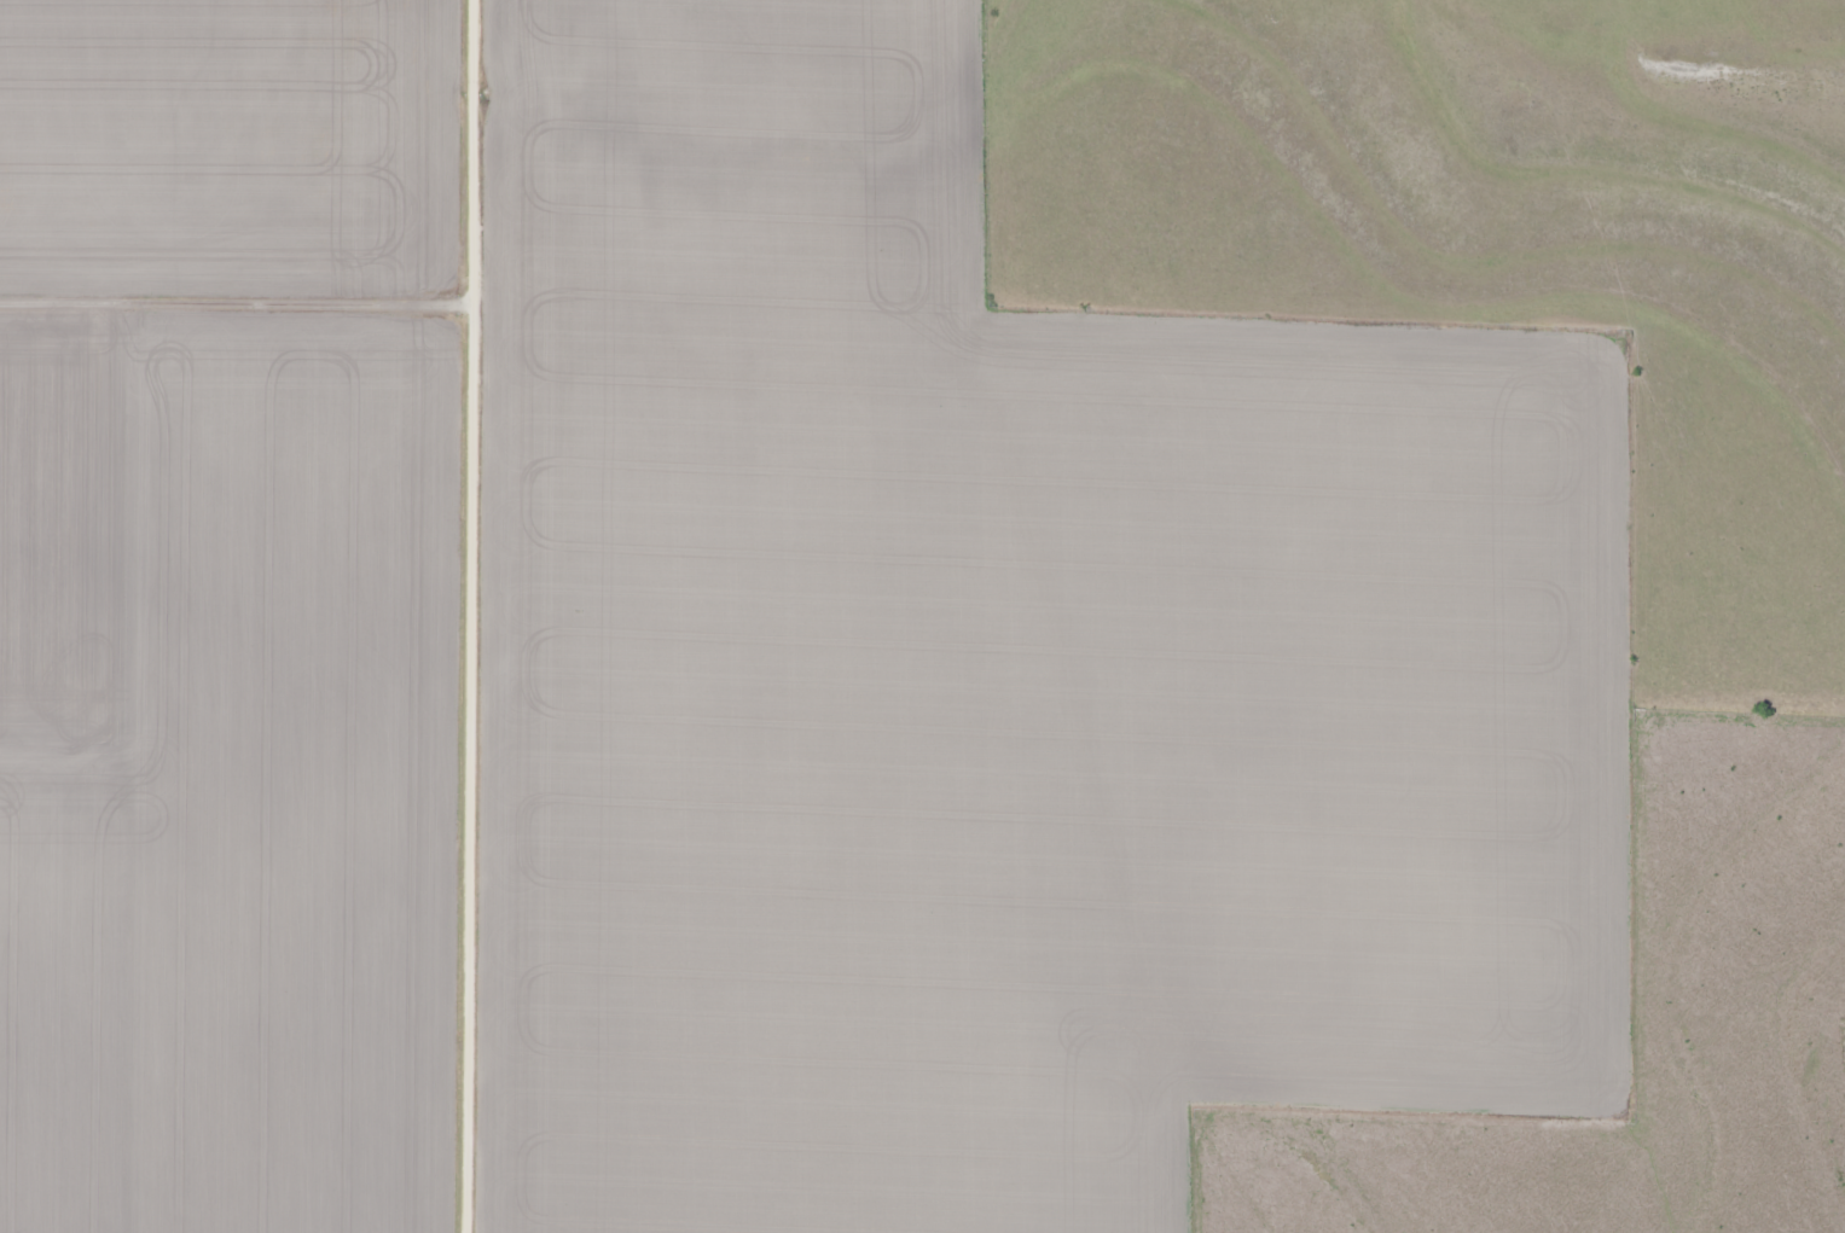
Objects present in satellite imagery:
road: (236, 308)
road: (469, 616)

